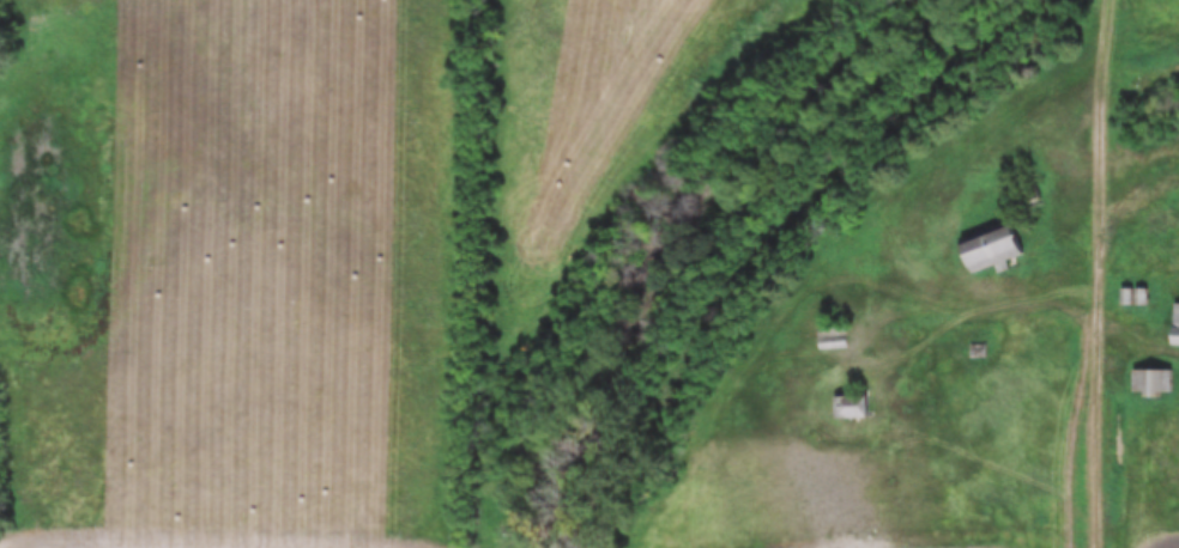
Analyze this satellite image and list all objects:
road: (1099, 121)
road: (1131, 203)
building: (992, 255)
building: (1174, 330)
building: (1160, 383)
road: (1094, 395)

